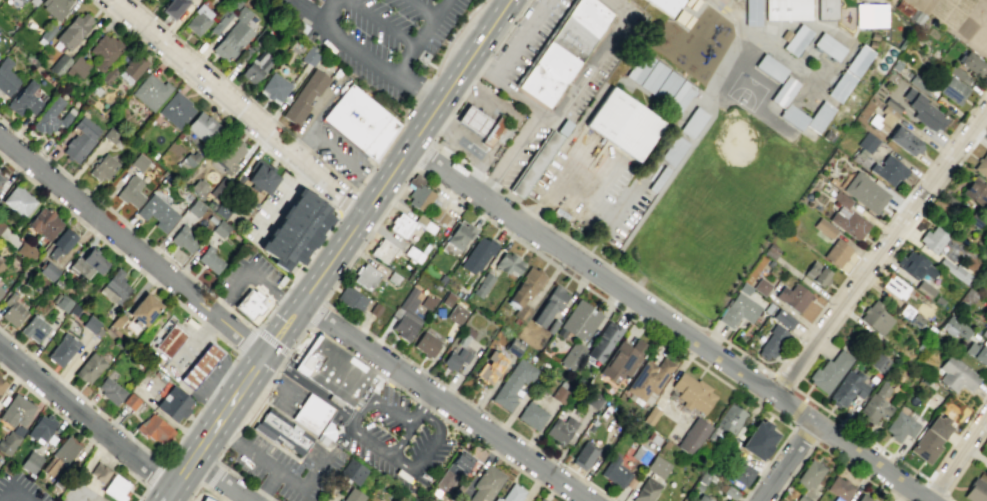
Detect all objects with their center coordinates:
building: (23, 0)
building: (666, 5)
building: (54, 7)
road: (425, 7)
building: (173, 8)
building: (904, 8)
building: (786, 9)
building: (826, 9)
road: (299, 12)
building: (752, 12)
building: (241, 14)
building: (870, 15)
building: (198, 20)
building: (220, 21)
road: (381, 23)
building: (73, 30)
parking lot: (376, 36)
road: (451, 36)
parking lot: (526, 37)
building: (245, 38)
road: (420, 38)
building: (796, 39)
building: (230, 40)
road: (520, 40)
building: (828, 46)
building: (105, 49)
building: (563, 50)
building: (426, 56)
building: (309, 57)
road: (364, 57)
road: (592, 57)
parking lot: (597, 58)
building: (858, 60)
building: (972, 63)
building: (59, 64)
building: (78, 66)
building: (133, 67)
road: (211, 67)
building: (256, 67)
building: (639, 67)
building: (770, 67)
road: (194, 70)
road: (479, 71)
road: (480, 71)
building: (958, 74)
building: (6, 77)
building: (652, 77)
building: (917, 82)
road: (192, 86)
building: (275, 86)
building: (666, 86)
building: (840, 86)
building: (951, 89)
building: (150, 91)
road: (422, 91)
building: (783, 91)
building: (304, 96)
building: (680, 96)
building: (23, 99)
road: (521, 100)
building: (892, 104)
road: (483, 105)
building: (175, 109)
building: (923, 110)
road: (492, 111)
road: (968, 113)
road: (314, 115)
building: (792, 116)
building: (818, 116)
building: (50, 117)
building: (885, 117)
road: (454, 119)
building: (473, 119)
road: (473, 119)
building: (359, 121)
building: (692, 122)
road: (438, 123)
building: (624, 123)
road: (918, 124)
building: (202, 126)
road: (483, 126)
building: (85, 128)
building: (493, 130)
road: (464, 133)
road: (504, 134)
building: (111, 135)
road: (474, 140)
building: (904, 140)
road: (299, 142)
building: (867, 142)
road: (945, 142)
building: (77, 146)
road: (283, 146)
road: (385, 147)
building: (672, 150)
road: (335, 151)
parking lot: (518, 152)
building: (227, 153)
road: (510, 154)
parking lot: (340, 155)
road: (402, 155)
road: (425, 157)
building: (138, 161)
building: (537, 164)
building: (981, 164)
building: (103, 167)
road: (331, 170)
building: (888, 170)
road: (315, 173)
road: (478, 173)
road: (477, 175)
road: (428, 177)
building: (1, 179)
building: (261, 179)
road: (298, 179)
building: (657, 179)
road: (555, 180)
road: (371, 182)
building: (219, 187)
building: (198, 188)
building: (976, 191)
building: (130, 192)
road: (588, 192)
building: (865, 192)
building: (418, 193)
road: (283, 198)
road: (320, 199)
building: (840, 199)
building: (18, 201)
road: (344, 201)
park: (723, 201)
road: (351, 204)
parking lot: (265, 205)
road: (108, 208)
building: (194, 208)
road: (619, 209)
road: (529, 210)
road: (92, 211)
building: (157, 212)
building: (438, 216)
building: (1, 223)
building: (44, 223)
building: (424, 223)
building: (849, 224)
building: (401, 225)
building: (823, 227)
building: (220, 229)
building: (295, 230)
building: (459, 235)
building: (63, 239)
road: (103, 239)
building: (183, 239)
building: (932, 239)
building: (382, 250)
building: (26, 251)
road: (309, 252)
road: (879, 252)
building: (836, 253)
building: (413, 254)
building: (477, 254)
building: (210, 261)
building: (509, 263)
building: (1, 265)
building: (87, 265)
building: (914, 265)
road: (590, 270)
building: (954, 270)
building: (48, 271)
building: (816, 273)
road: (248, 274)
building: (365, 276)
parking lot: (249, 278)
building: (392, 278)
building: (481, 284)
building: (760, 286)
building: (896, 287)
building: (115, 288)
building: (744, 288)
building: (924, 288)
building: (1, 290)
road: (191, 291)
building: (525, 291)
building: (793, 297)
road: (279, 299)
building: (447, 299)
building: (350, 300)
building: (937, 301)
building: (427, 302)
building: (62, 303)
road: (222, 303)
building: (249, 303)
road: (287, 303)
building: (549, 304)
road: (219, 306)
building: (767, 307)
building: (143, 308)
building: (374, 309)
building: (13, 310)
building: (738, 310)
building: (903, 310)
road: (316, 314)
building: (456, 314)
building: (406, 316)
building: (875, 317)
building: (783, 318)
building: (117, 320)
building: (580, 320)
building: (915, 321)
building: (90, 324)
road: (232, 324)
parking lot: (186, 325)
building: (551, 326)
building: (954, 327)
building: (34, 328)
road: (253, 328)
building: (984, 332)
building: (465, 336)
road: (203, 339)
road: (245, 339)
road: (274, 339)
building: (168, 340)
road: (271, 340)
building: (603, 340)
building: (771, 341)
building: (426, 344)
road: (191, 345)
building: (513, 347)
road: (214, 348)
building: (62, 349)
road: (195, 349)
road: (346, 351)
road: (28, 352)
building: (977, 353)
building: (572, 356)
road: (76, 357)
road: (206, 358)
building: (456, 359)
building: (622, 359)
road: (222, 360)
building: (319, 361)
road: (282, 363)
building: (878, 363)
road: (184, 364)
road: (807, 364)
building: (199, 366)
building: (489, 367)
building: (88, 368)
road: (278, 371)
building: (829, 371)
road: (194, 373)
road: (772, 373)
building: (955, 374)
road: (226, 375)
building: (648, 378)
road: (61, 380)
road: (275, 380)
road: (783, 381)
road: (186, 382)
building: (351, 382)
road: (278, 383)
building: (511, 383)
building: (2, 384)
road: (310, 385)
building: (847, 388)
building: (110, 390)
road: (215, 391)
building: (691, 393)
building: (558, 394)
parking lot: (287, 396)
building: (594, 399)
road: (207, 400)
building: (130, 401)
road: (373, 401)
road: (445, 401)
building: (173, 403)
building: (876, 403)
road: (422, 404)
road: (360, 406)
road: (420, 406)
road: (792, 409)
building: (16, 411)
road: (256, 411)
road: (796, 411)
road: (222, 415)
building: (531, 415)
building: (650, 415)
building: (314, 416)
road: (85, 417)
building: (729, 419)
building: (900, 426)
building: (41, 428)
building: (154, 428)
building: (560, 429)
road: (79, 431)
building: (281, 431)
road: (223, 433)
building: (692, 435)
road: (802, 435)
road: (436, 436)
road: (232, 437)
parking lot: (362, 438)
building: (930, 438)
building: (758, 440)
road: (177, 441)
road: (401, 441)
building: (8, 442)
building: (65, 450)
road: (384, 452)
road: (826, 452)
building: (640, 454)
road: (497, 455)
building: (584, 455)
road: (959, 459)
building: (31, 461)
road: (785, 461)
road: (868, 462)
building: (50, 466)
building: (656, 466)
road: (963, 466)
parking lot: (285, 467)
road: (227, 469)
building: (352, 471)
building: (453, 471)
building: (614, 472)
building: (739, 472)
building: (101, 473)
road: (154, 474)
road: (180, 475)
road: (214, 476)
building: (703, 476)
road: (285, 478)
road: (218, 480)
building: (807, 480)
building: (486, 484)
road: (203, 485)
building: (697, 486)
road: (937, 486)
building: (116, 487)
road: (268, 487)
parking lot: (19, 488)
building: (839, 488)
building: (645, 490)
road: (14, 491)
building: (976, 491)
building: (729, 492)
road: (261, 493)
road: (167, 494)
building: (511, 494)
building: (352, 495)
building: (701, 498)
building: (863, 498)
building: (206, 499)
gas station: (206, 499)
road: (241, 499)
road: (271, 499)
building: (541, 499)
road: (162, 500)
road: (164, 500)
road: (186, 500)
road: (224, 500)

